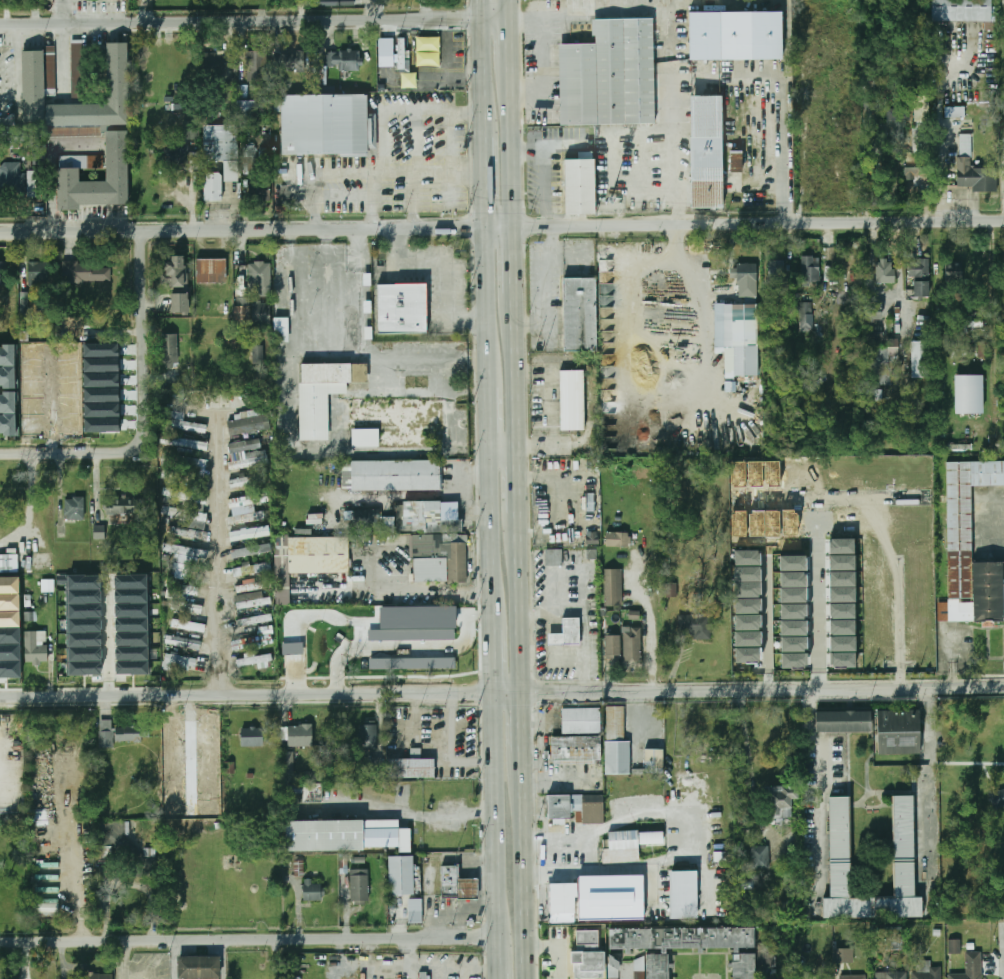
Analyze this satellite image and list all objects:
building: (330, 2)
road: (482, 10)
road: (510, 10)
building: (961, 10)
road: (62, 13)
road: (255, 23)
building: (735, 35)
road: (511, 38)
building: (427, 51)
building: (385, 52)
building: (400, 53)
road: (61, 58)
building: (344, 59)
building: (288, 60)
building: (212, 62)
building: (257, 65)
building: (77, 69)
building: (609, 74)
road: (483, 76)
building: (32, 77)
building: (242, 90)
road: (403, 108)
building: (246, 110)
building: (954, 111)
building: (870, 114)
building: (321, 124)
building: (896, 124)
road: (514, 138)
road: (939, 138)
road: (450, 139)
building: (220, 143)
building: (964, 144)
road: (780, 145)
building: (249, 151)
building: (705, 152)
building: (177, 159)
building: (735, 161)
road: (670, 169)
road: (416, 171)
road: (543, 172)
building: (916, 174)
building: (68, 175)
building: (975, 176)
road: (484, 177)
building: (11, 180)
building: (31, 184)
building: (212, 187)
building: (579, 187)
road: (341, 193)
building: (264, 195)
road: (411, 197)
road: (675, 215)
road: (501, 221)
road: (517, 256)
road: (445, 264)
building: (918, 267)
building: (809, 269)
building: (212, 271)
building: (776, 271)
building: (884, 271)
building: (953, 271)
building: (38, 273)
building: (87, 273)
building: (175, 273)
building: (260, 275)
building: (744, 275)
building: (2, 279)
road: (544, 284)
building: (920, 288)
road: (485, 295)
building: (305, 301)
building: (24, 303)
building: (178, 304)
building: (400, 308)
building: (872, 311)
road: (517, 312)
building: (252, 313)
building: (578, 315)
building: (805, 316)
building: (74, 326)
building: (280, 330)
road: (143, 336)
building: (736, 337)
building: (980, 348)
building: (98, 349)
building: (169, 350)
building: (67, 351)
building: (31, 352)
building: (258, 356)
building: (920, 358)
building: (886, 363)
building: (99, 364)
building: (7, 366)
building: (67, 369)
building: (31, 370)
building: (99, 379)
building: (31, 388)
building: (67, 388)
building: (968, 393)
building: (876, 394)
building: (99, 395)
building: (323, 395)
road: (518, 395)
building: (571, 400)
building: (66, 405)
road: (489, 405)
road: (663, 405)
building: (31, 407)
building: (100, 410)
building: (8, 413)
building: (184, 423)
building: (67, 424)
building: (100, 425)
building: (246, 425)
building: (32, 426)
building: (365, 438)
building: (184, 442)
building: (243, 446)
road: (71, 454)
road: (504, 458)
building: (251, 460)
building: (195, 467)
building: (923, 472)
building: (737, 473)
building: (755, 473)
building: (771, 473)
building: (907, 473)
building: (788, 474)
building: (805, 474)
building: (823, 474)
building: (838, 474)
building: (855, 474)
building: (889, 474)
building: (395, 475)
building: (872, 475)
building: (247, 481)
road: (519, 485)
building: (171, 495)
building: (249, 500)
building: (196, 501)
building: (123, 505)
road: (29, 508)
building: (74, 509)
building: (361, 519)
building: (198, 520)
road: (490, 521)
building: (389, 522)
building: (843, 522)
building: (860, 522)
building: (907, 522)
building: (924, 522)
building: (738, 523)
building: (756, 523)
building: (772, 523)
building: (789, 523)
building: (876, 523)
building: (892, 523)
building: (263, 531)
building: (98, 532)
building: (188, 533)
building: (239, 536)
building: (618, 540)
building: (841, 546)
building: (970, 548)
building: (249, 551)
building: (190, 553)
building: (318, 555)
building: (571, 556)
road: (222, 557)
building: (747, 557)
building: (437, 558)
building: (878, 558)
building: (842, 562)
building: (8, 563)
building: (793, 563)
building: (253, 570)
building: (747, 573)
building: (878, 573)
building: (842, 578)
building: (792, 579)
building: (129, 581)
building: (82, 583)
building: (9, 585)
building: (47, 585)
building: (254, 585)
building: (613, 587)
building: (182, 589)
building: (747, 589)
road: (401, 590)
building: (878, 590)
building: (670, 591)
building: (792, 595)
building: (842, 595)
building: (130, 596)
building: (82, 597)
building: (251, 600)
building: (8, 602)
road: (520, 602)
building: (747, 605)
building: (879, 605)
building: (187, 607)
building: (130, 610)
building: (842, 610)
building: (82, 611)
building: (793, 611)
building: (30, 616)
road: (333, 616)
building: (9, 618)
building: (255, 621)
building: (747, 622)
road: (820, 622)
building: (879, 622)
building: (130, 624)
road: (651, 625)
building: (82, 626)
building: (190, 626)
building: (695, 626)
road: (767, 626)
building: (794, 627)
building: (842, 627)
building: (566, 632)
building: (9, 635)
building: (130, 638)
building: (747, 638)
building: (879, 638)
building: (82, 640)
building: (252, 642)
building: (183, 643)
building: (843, 643)
building: (631, 644)
building: (794, 644)
building: (36, 646)
building: (613, 646)
road: (492, 647)
road: (428, 648)
building: (9, 652)
building: (130, 653)
building: (83, 654)
building: (747, 655)
building: (879, 655)
building: (255, 660)
building: (794, 660)
building: (841, 660)
building: (178, 661)
building: (130, 667)
building: (9, 669)
building: (83, 669)
road: (108, 671)
road: (502, 693)
building: (582, 721)
building: (616, 722)
building: (843, 722)
road: (521, 723)
building: (207, 727)
building: (171, 729)
building: (898, 732)
building: (106, 734)
building: (128, 734)
building: (178, 735)
building: (300, 736)
building: (367, 736)
building: (252, 737)
building: (207, 748)
road: (451, 748)
building: (576, 748)
building: (171, 749)
building: (617, 757)
building: (654, 760)
building: (289, 764)
building: (208, 768)
building: (411, 768)
building: (172, 769)
building: (314, 775)
road: (820, 786)
building: (172, 788)
building: (208, 789)
building: (307, 792)
building: (997, 799)
building: (781, 801)
building: (576, 807)
building: (172, 808)
building: (208, 809)
road: (414, 813)
road: (494, 819)
building: (903, 826)
building: (839, 828)
building: (347, 835)
road: (559, 835)
building: (653, 837)
building: (121, 846)
building: (622, 847)
road: (539, 854)
building: (722, 856)
building: (760, 857)
road: (524, 865)
road: (611, 869)
building: (401, 875)
building: (447, 881)
building: (359, 886)
building: (466, 888)
gas station: (466, 888)
building: (312, 889)
building: (47, 890)
building: (685, 894)
road: (540, 895)
building: (599, 898)
building: (47, 905)
building: (414, 910)
building: (937, 932)
road: (248, 941)
building: (893, 943)
building: (684, 947)
building: (954, 947)
building: (765, 955)
building: (843, 956)
building: (588, 957)
road: (126, 960)
road: (173, 960)
road: (222, 960)
road: (498, 961)
building: (197, 967)
building: (971, 967)
road: (465, 968)
building: (613, 968)
building: (926, 970)
road: (142, 971)
building: (97, 975)
building: (424, 975)
building: (805, 975)
building: (891, 975)
building: (778, 976)
building: (853, 977)

